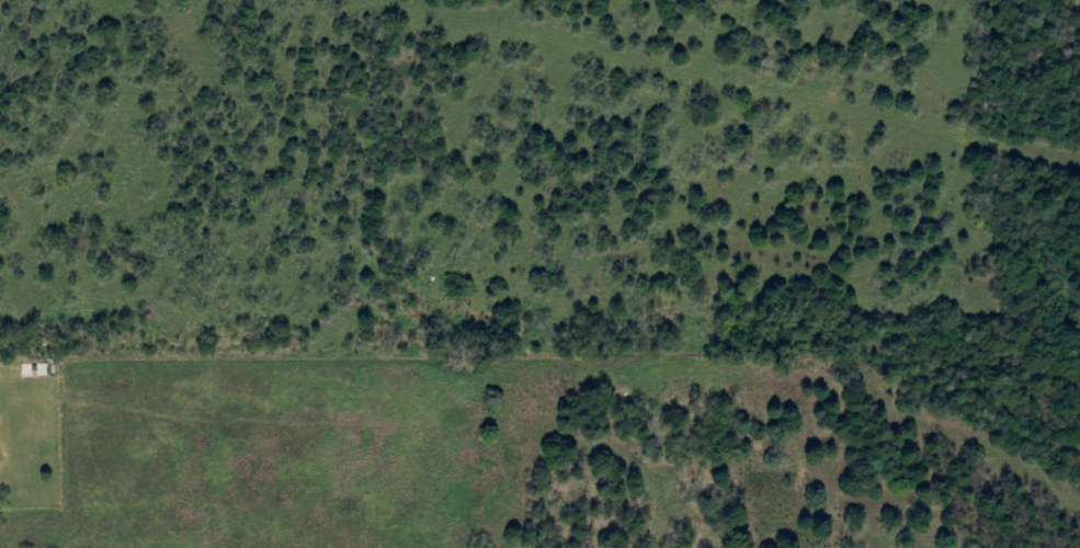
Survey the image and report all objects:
building: (1, 449)

